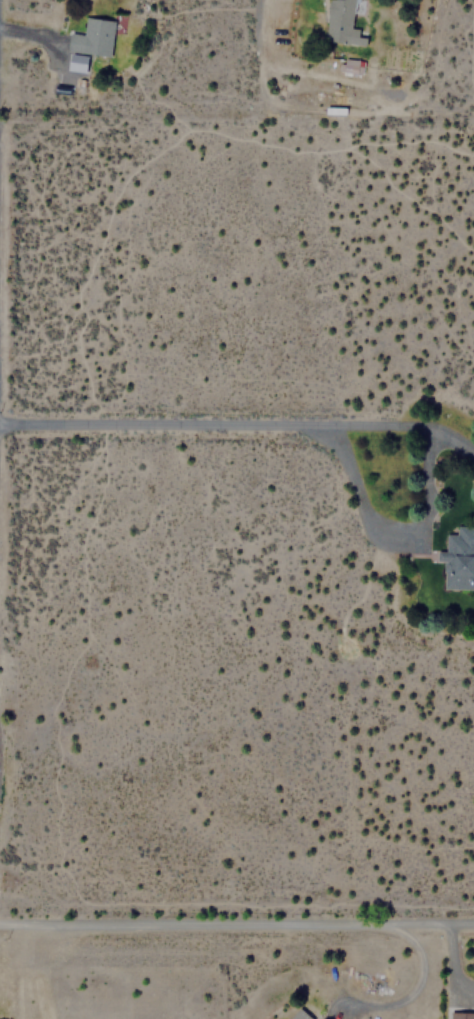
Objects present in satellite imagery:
building: (342, 23)
road: (29, 32)
building: (92, 36)
building: (80, 61)
building: (349, 65)
road: (240, 424)
road: (360, 500)
building: (458, 559)
road: (237, 923)
building: (299, 1015)
building: (461, 1015)

